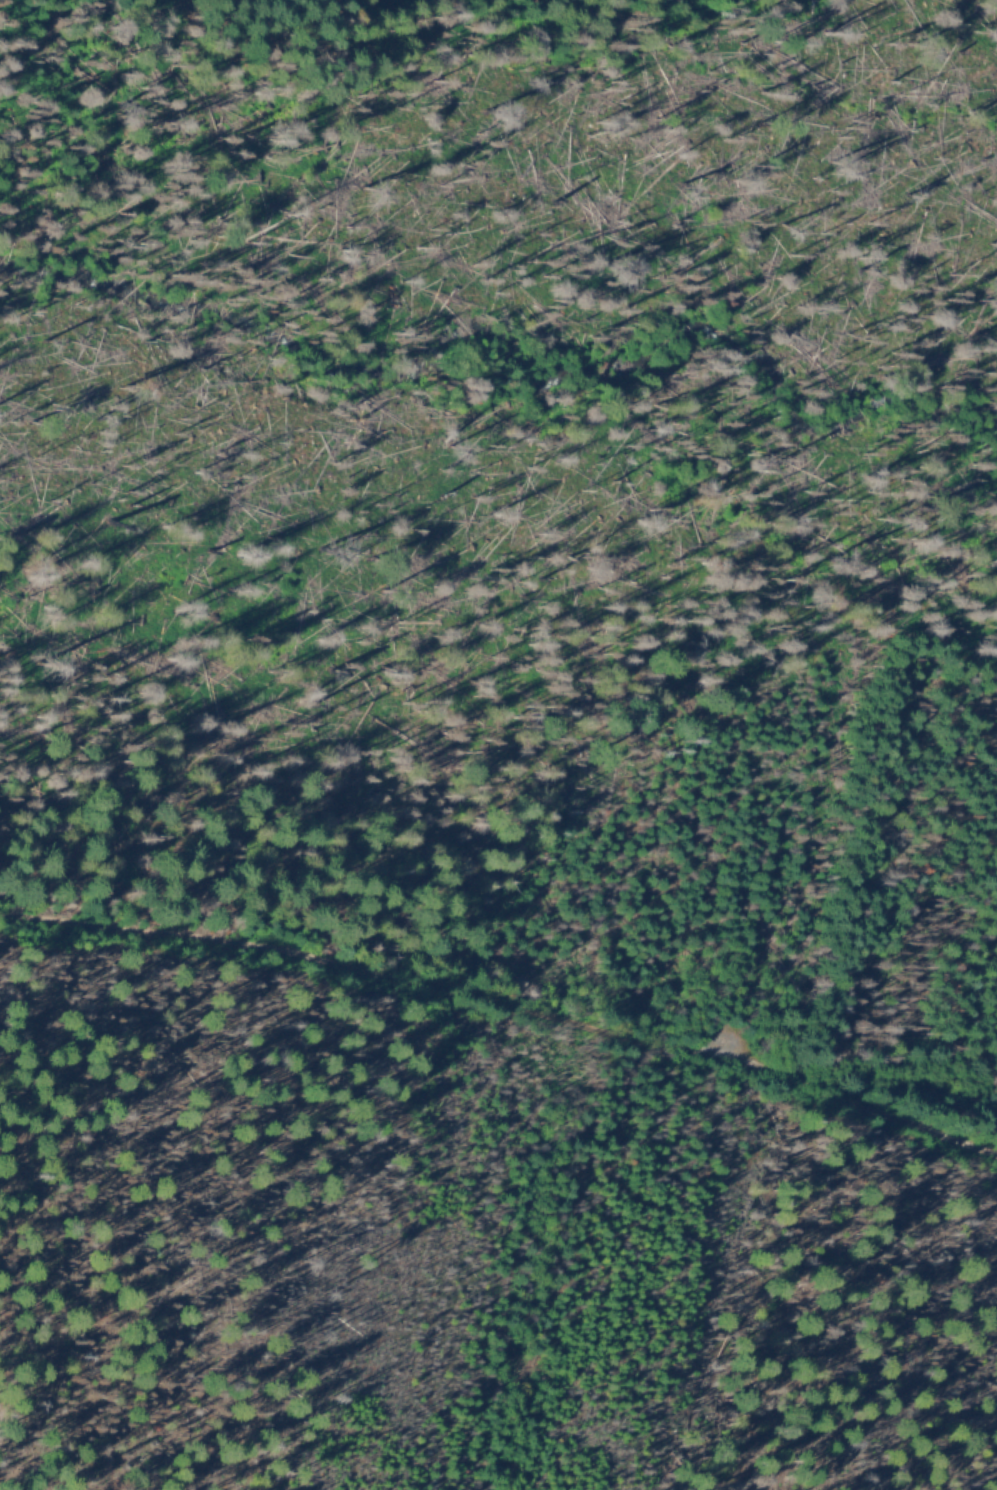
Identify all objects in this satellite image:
road: (506, 1016)

